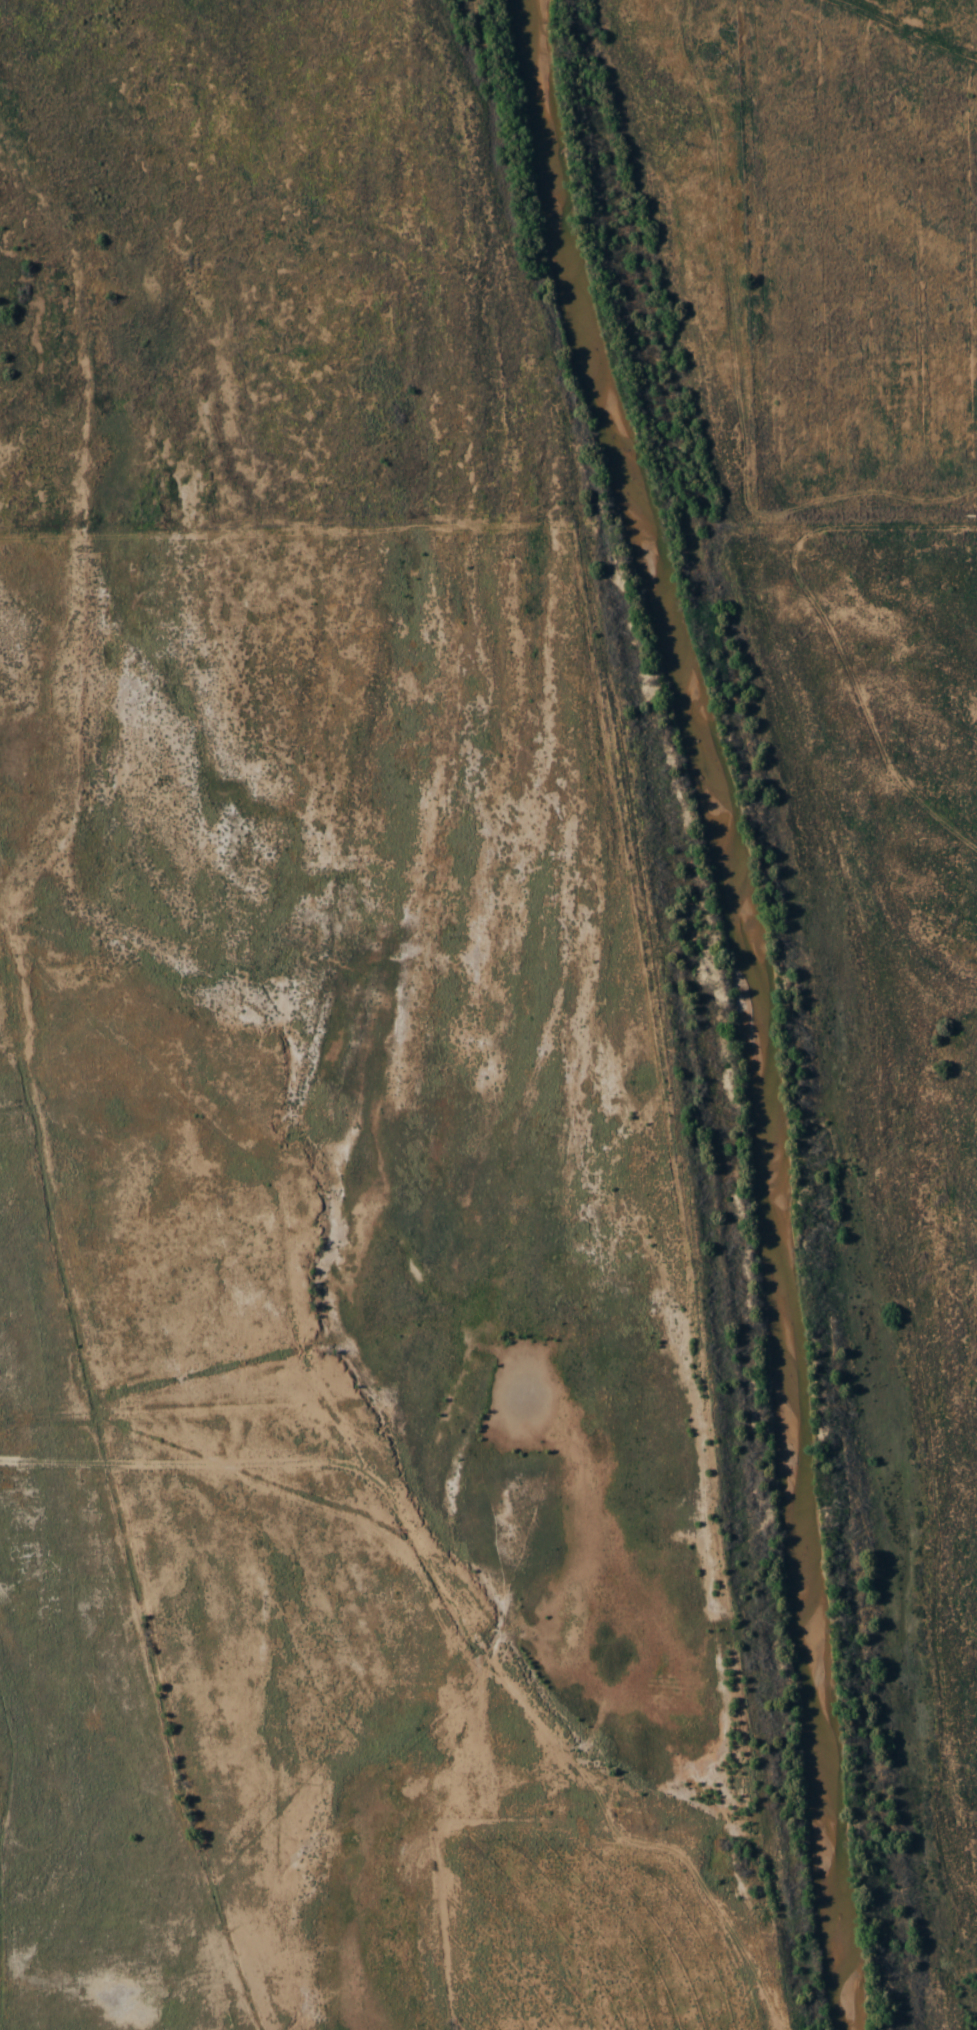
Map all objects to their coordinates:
river: (753, 1003)

